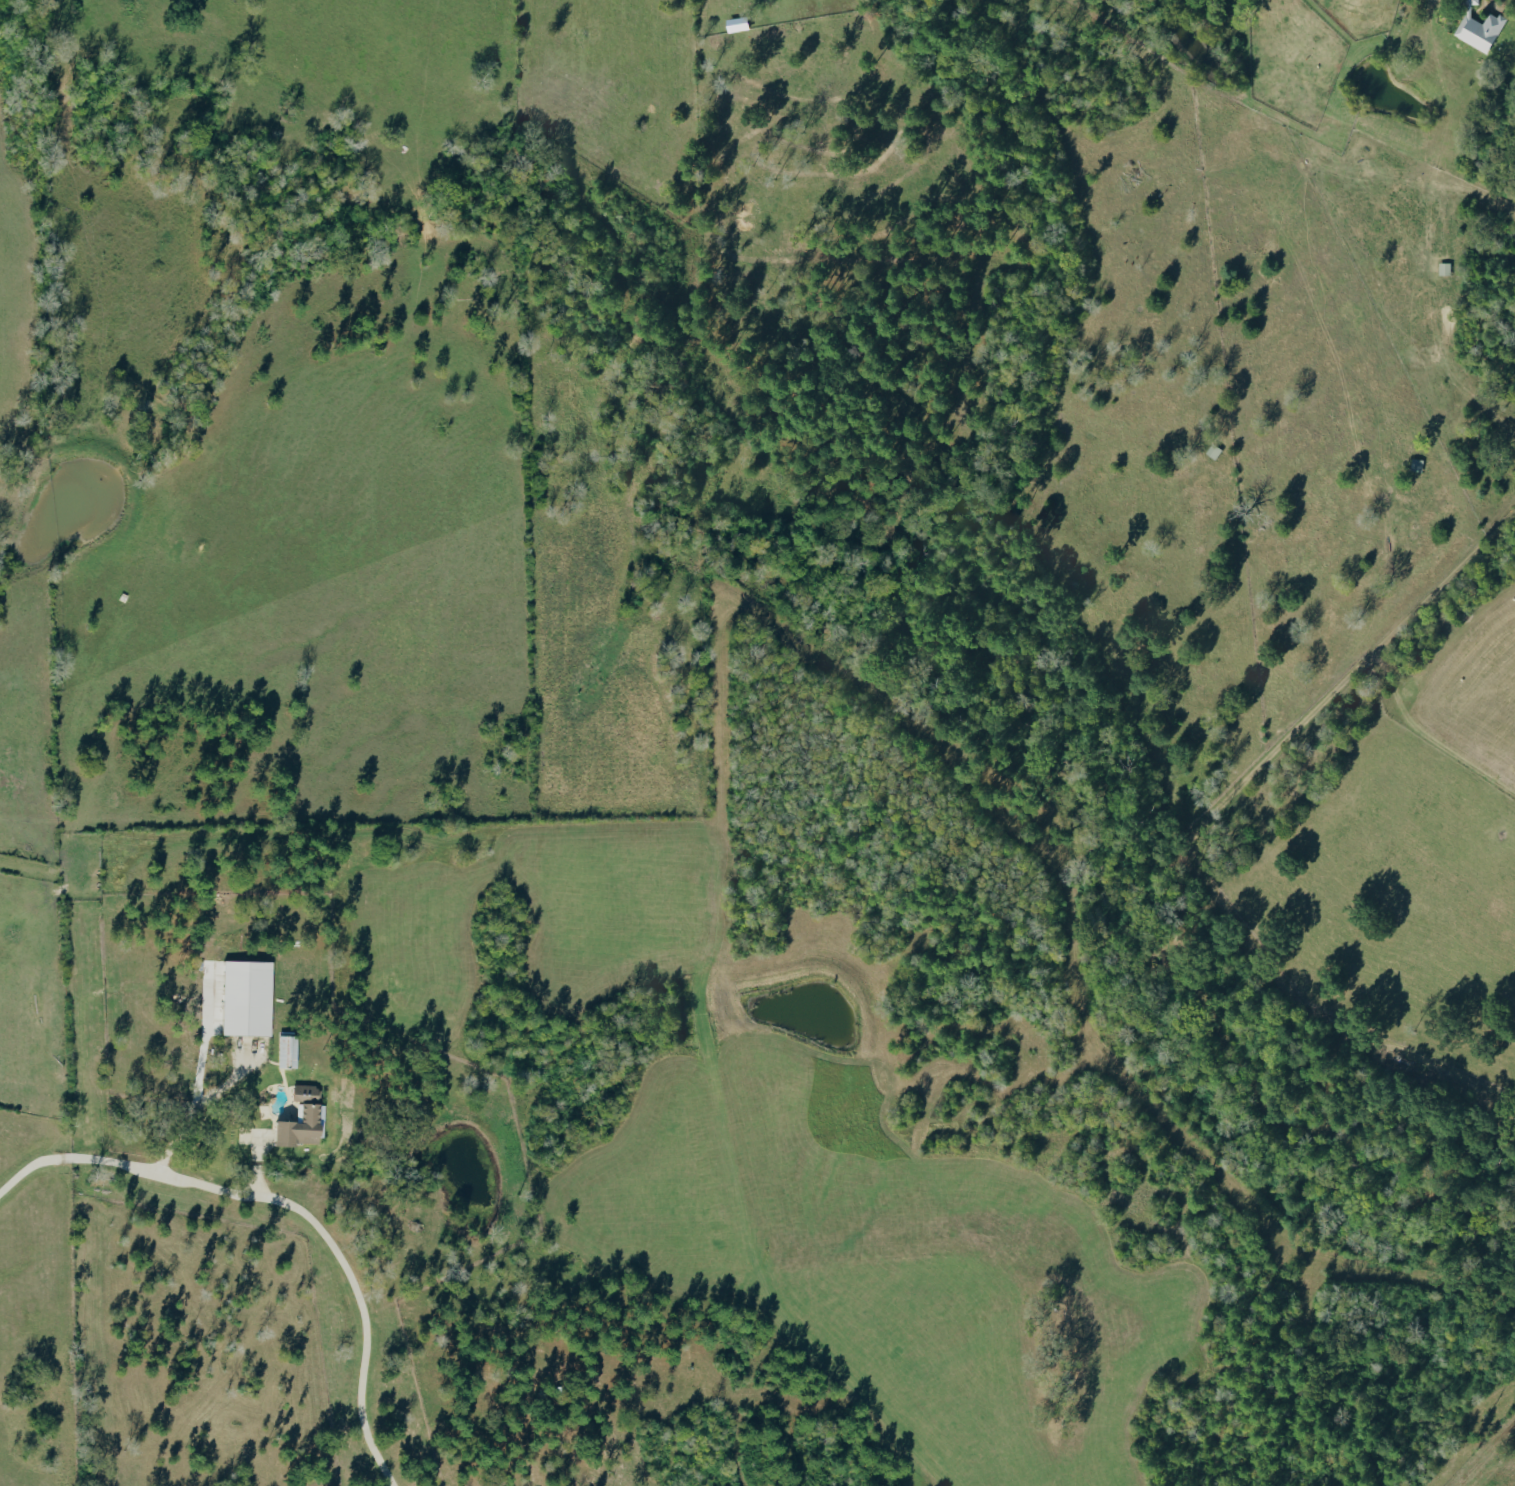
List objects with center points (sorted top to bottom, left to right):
building: (1476, 27)
building: (1415, 465)
building: (252, 998)
road: (206, 1114)
building: (306, 1119)
road: (293, 1206)

